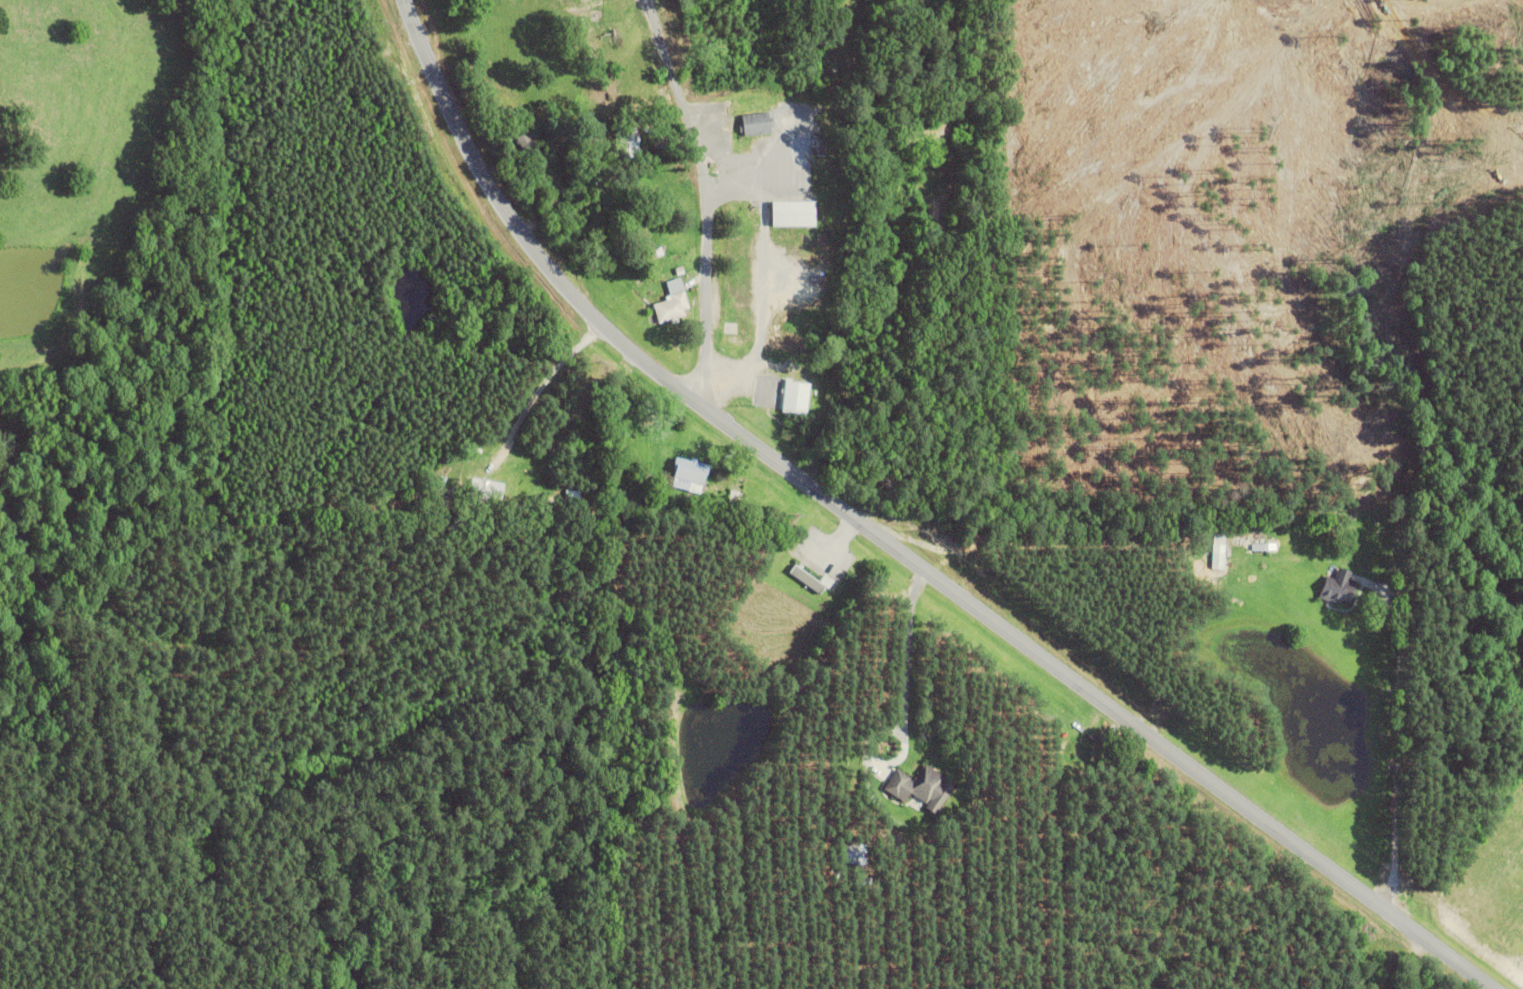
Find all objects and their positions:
building: (531, 141)
building: (631, 146)
road: (707, 195)
building: (794, 213)
building: (673, 303)
building: (796, 397)
building: (618, 438)
building: (689, 475)
building: (437, 484)
building: (487, 489)
building: (735, 500)
road: (895, 544)
building: (1220, 556)
building: (807, 579)
building: (1342, 587)
road: (1397, 759)
building: (921, 787)

